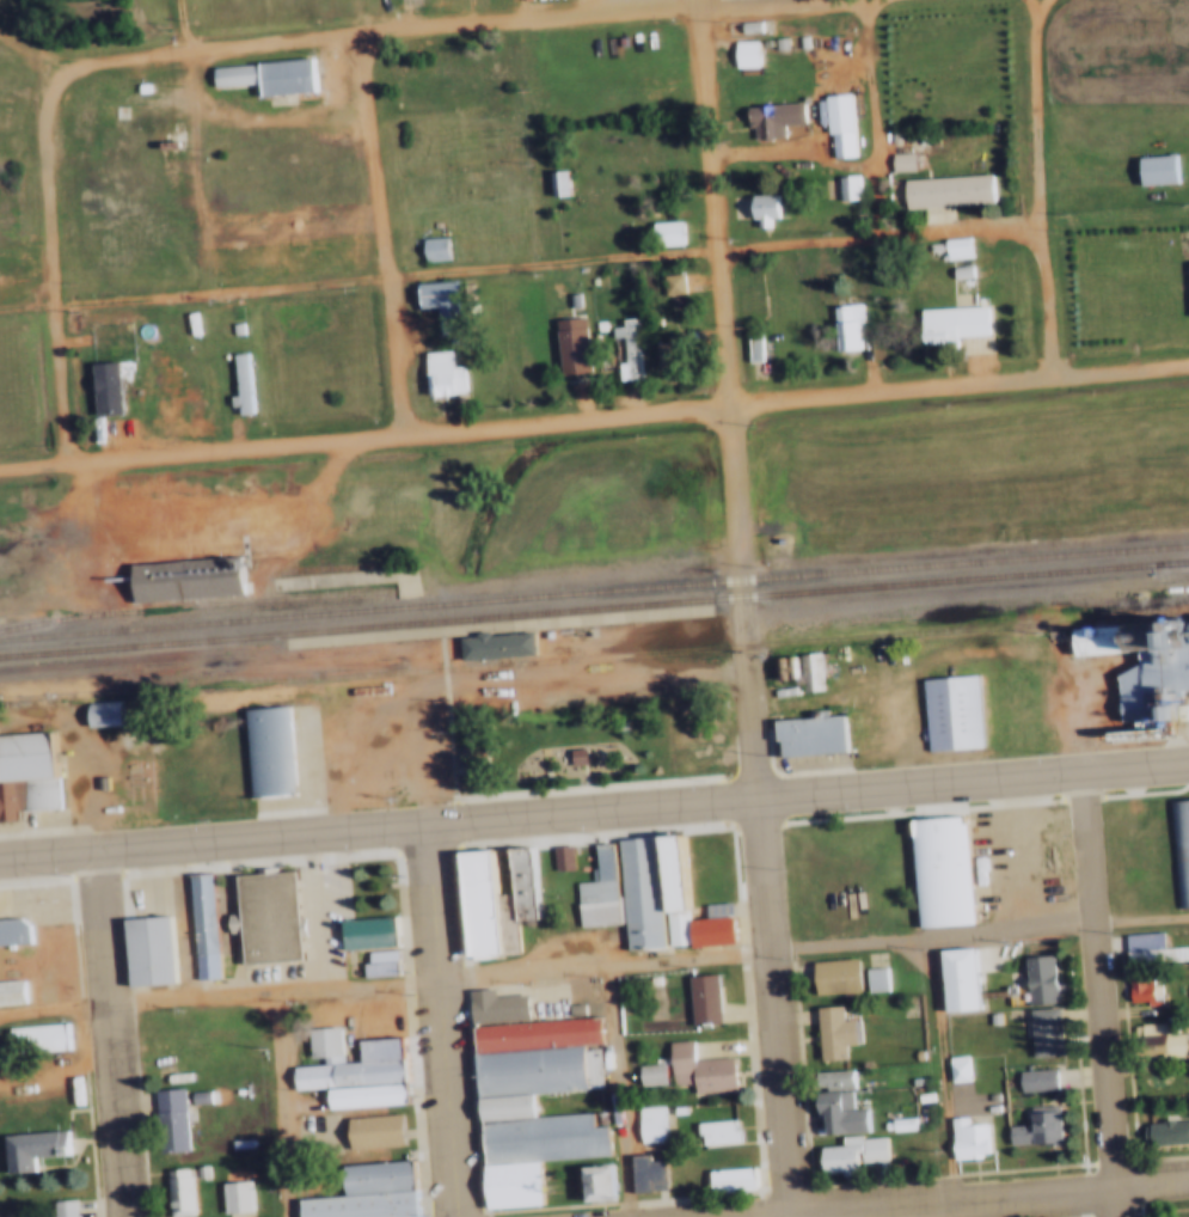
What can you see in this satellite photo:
road: (185, 23)
road: (409, 24)
building: (743, 25)
building: (795, 41)
building: (773, 42)
building: (738, 53)
building: (264, 77)
building: (136, 86)
building: (766, 116)
road: (875, 116)
building: (833, 123)
building: (165, 142)
building: (897, 163)
building: (1153, 170)
building: (563, 182)
building: (553, 184)
building: (851, 185)
building: (841, 188)
road: (1043, 188)
building: (943, 191)
building: (758, 208)
road: (384, 231)
building: (662, 232)
building: (6, 237)
building: (428, 246)
building: (951, 247)
road: (57, 261)
road: (521, 263)
building: (955, 270)
building: (666, 282)
building: (676, 282)
building: (434, 300)
building: (566, 302)
building: (676, 305)
building: (593, 323)
building: (946, 323)
building: (231, 328)
building: (841, 329)
building: (566, 344)
building: (758, 345)
building: (633, 347)
building: (748, 348)
building: (621, 350)
building: (664, 356)
building: (436, 374)
building: (165, 379)
building: (177, 379)
building: (235, 385)
building: (99, 387)
road: (734, 402)
road: (594, 415)
building: (773, 540)
building: (182, 577)
railway: (594, 592)
railway: (407, 593)
railway: (191, 604)
railway: (594, 605)
railway: (700, 612)
building: (1188, 630)
silo: (1188, 630)
building: (1152, 637)
building: (1097, 641)
building: (490, 644)
railway: (594, 652)
building: (777, 669)
building: (801, 671)
building: (1147, 684)
building: (945, 711)
building: (99, 714)
building: (612, 721)
building: (1177, 727)
building: (807, 738)
park: (587, 744)
building: (264, 754)
building: (570, 754)
building: (464, 756)
building: (580, 756)
building: (24, 773)
road: (808, 795)
road: (213, 837)
building: (1177, 844)
building: (554, 856)
building: (565, 856)
building: (938, 874)
building: (521, 879)
building: (595, 887)
building: (667, 891)
building: (635, 893)
building: (498, 900)
building: (472, 903)
building: (197, 915)
building: (262, 917)
road: (1141, 918)
building: (710, 922)
building: (12, 931)
building: (361, 932)
building: (1138, 948)
road: (803, 949)
building: (145, 952)
building: (374, 962)
building: (831, 977)
building: (871, 979)
building: (956, 981)
building: (1035, 981)
building: (8, 990)
building: (1138, 991)
road: (1099, 996)
building: (698, 998)
building: (490, 1005)
road: (778, 1007)
building: (989, 1019)
road: (441, 1020)
road: (275, 1021)
road: (109, 1032)
building: (1038, 1032)
building: (529, 1033)
building: (828, 1033)
building: (32, 1036)
building: (1158, 1041)
building: (318, 1044)
building: (375, 1050)
building: (912, 1053)
building: (692, 1068)
building: (952, 1068)
building: (529, 1070)
building: (644, 1072)
building: (344, 1075)
building: (829, 1078)
building: (909, 1078)
building: (1031, 1080)
road: (621, 1090)
building: (192, 1095)
building: (361, 1095)
building: (501, 1107)
building: (670, 1108)
building: (836, 1113)
building: (165, 1119)
building: (644, 1123)
building: (894, 1123)
building: (369, 1130)
building: (1034, 1130)
building: (711, 1132)
building: (1166, 1135)
building: (534, 1138)
building: (962, 1138)
building: (27, 1150)
building: (846, 1152)
building: (194, 1169)
building: (642, 1174)
building: (374, 1176)
building: (724, 1178)
building: (593, 1182)
building: (505, 1184)
building: (173, 1193)
building: (231, 1195)
road: (962, 1198)
building: (357, 1205)
building: (55, 1207)

